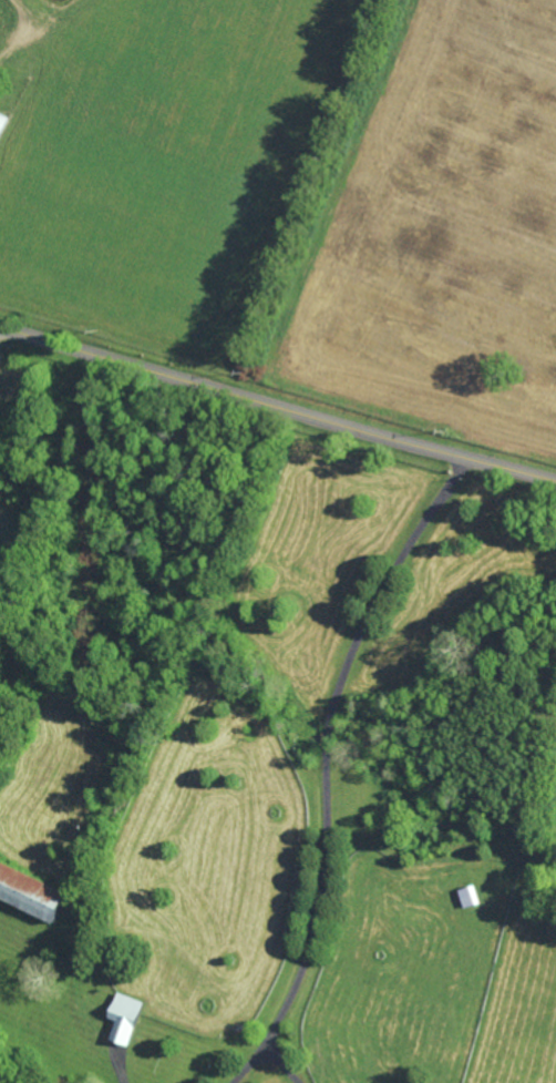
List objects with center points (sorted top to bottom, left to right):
building: (3, 122)
road: (276, 409)
road: (328, 740)
building: (32, 891)
building: (470, 896)
building: (126, 1016)
road: (251, 1064)
road: (286, 1064)
road: (120, 1065)

